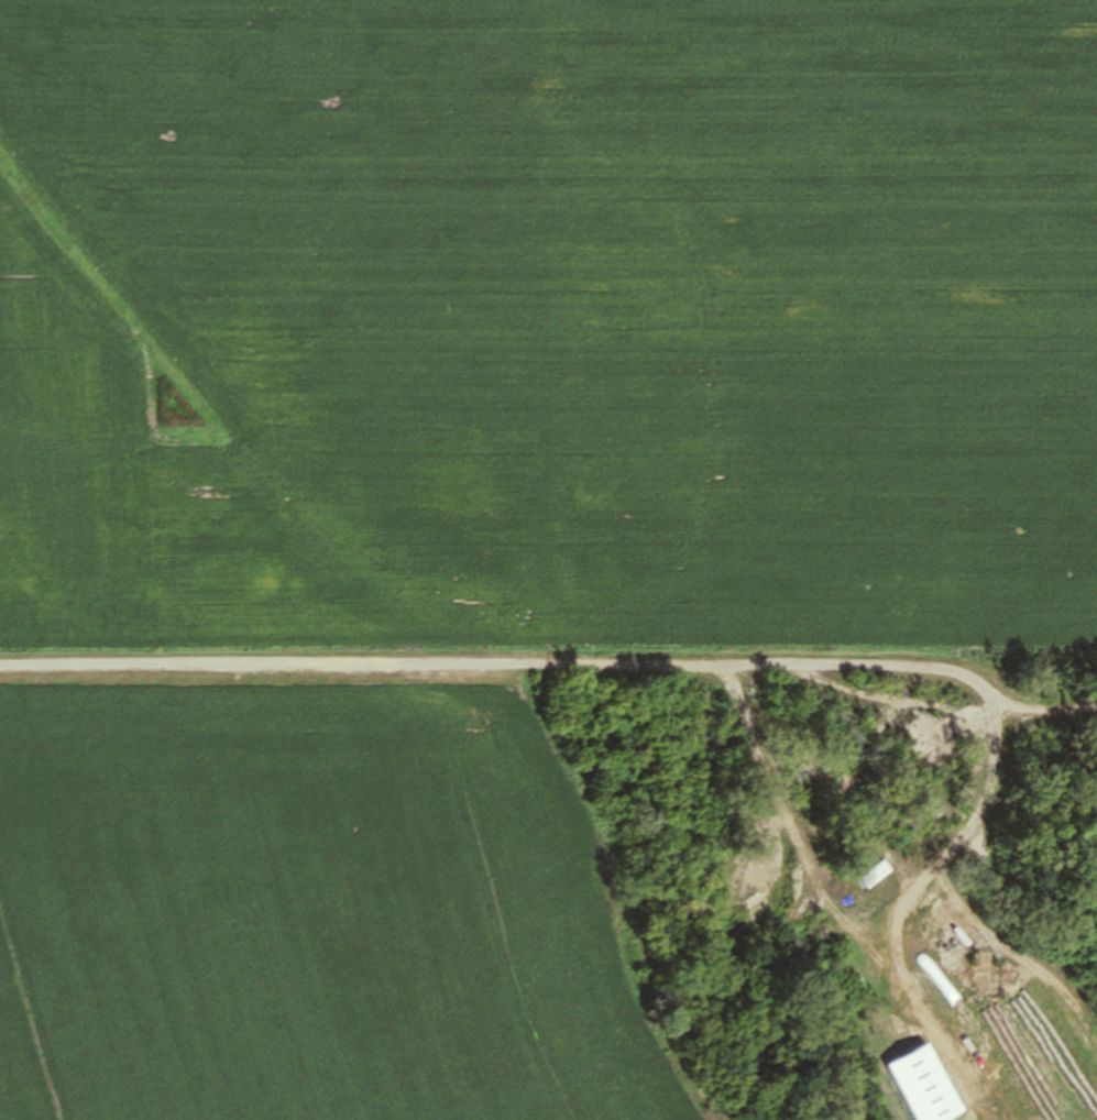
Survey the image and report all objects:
road: (329, 667)
road: (884, 670)
building: (876, 875)
road: (853, 920)
building: (924, 1084)

